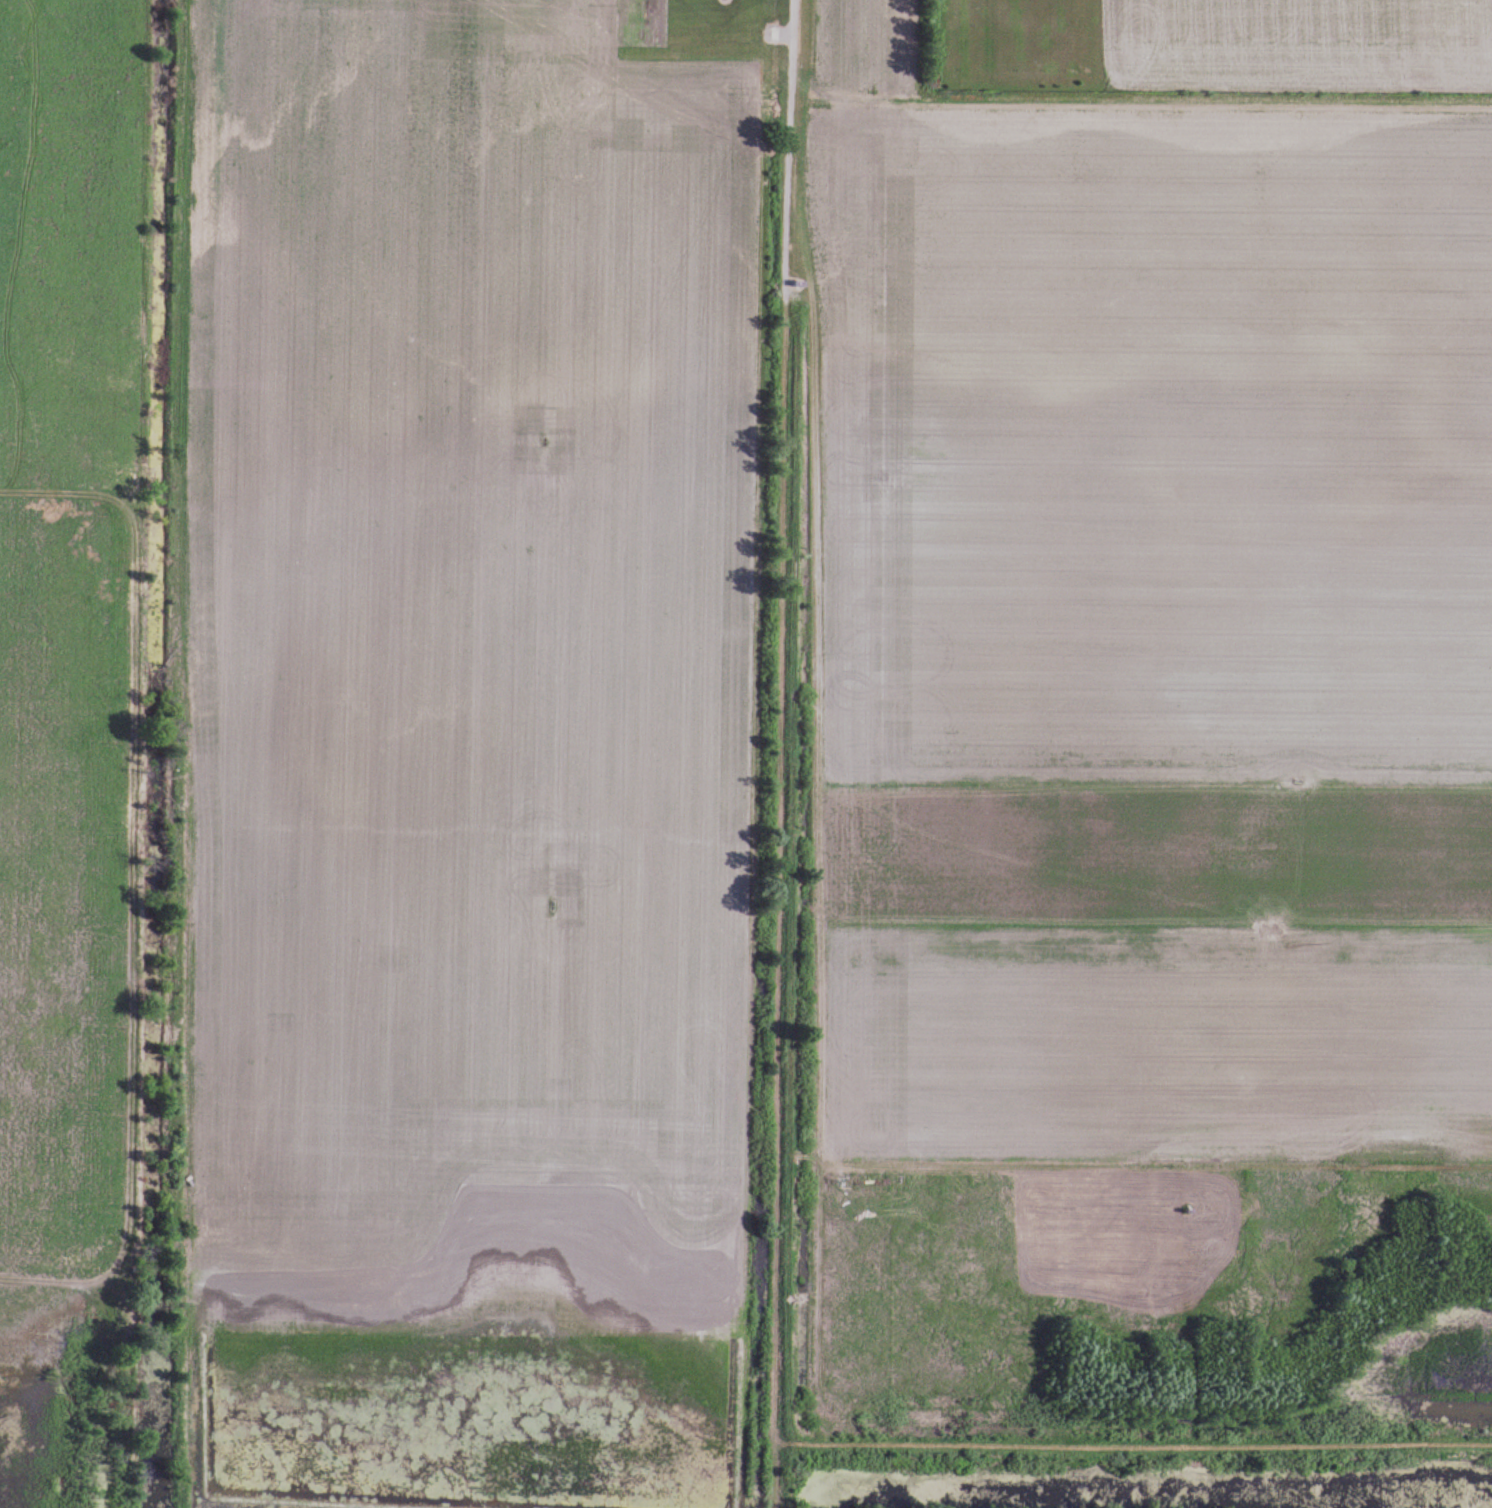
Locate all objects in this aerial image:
crop: (439, 672)
crop: (66, 709)
road: (777, 753)
road: (136, 754)

